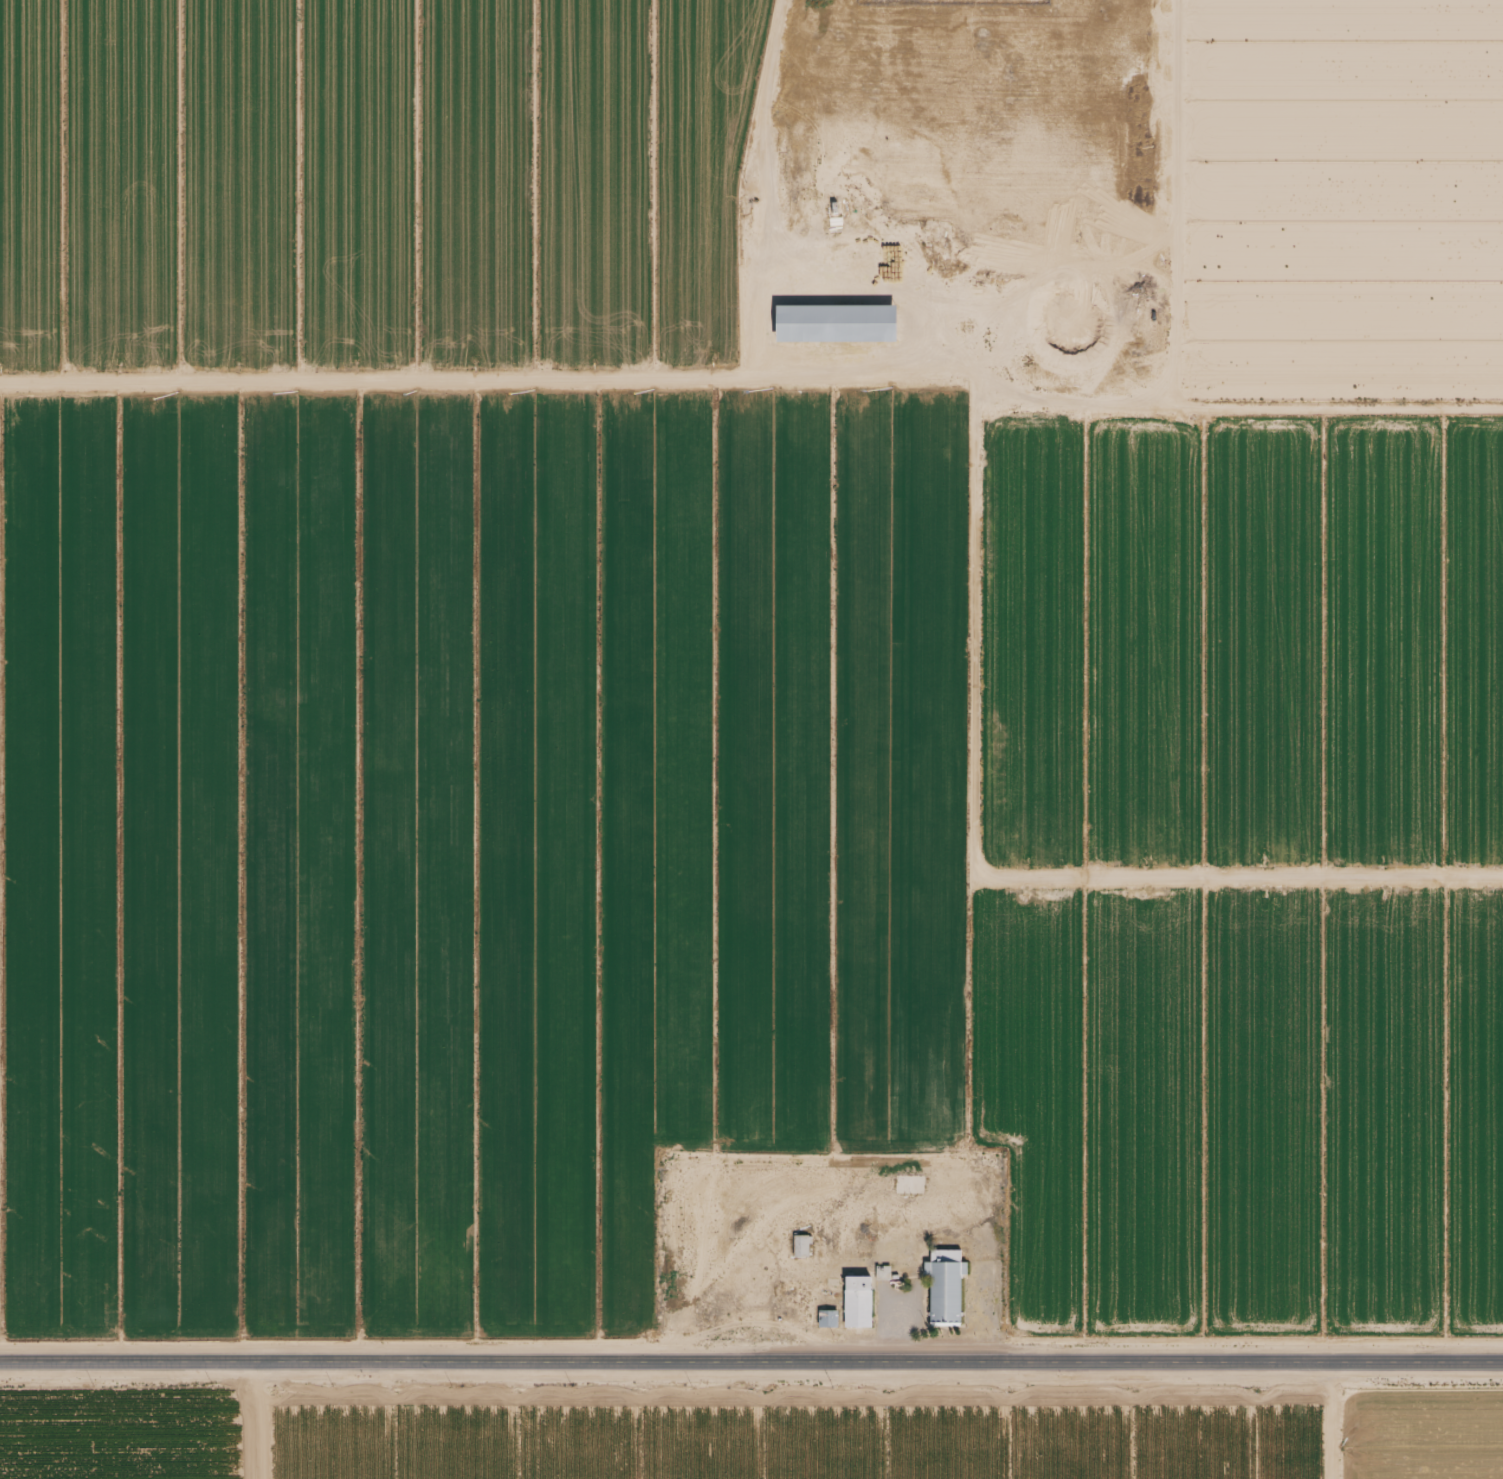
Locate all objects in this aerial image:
crop: (372, 184)
road: (1145, 191)
road: (1177, 197)
road: (885, 295)
building: (836, 324)
crop: (1241, 640)
road: (974, 770)
building: (799, 1245)
building: (943, 1285)
building: (856, 1301)
building: (826, 1318)
road: (1365, 1363)
road: (613, 1364)
road: (1327, 1421)
road: (259, 1422)

